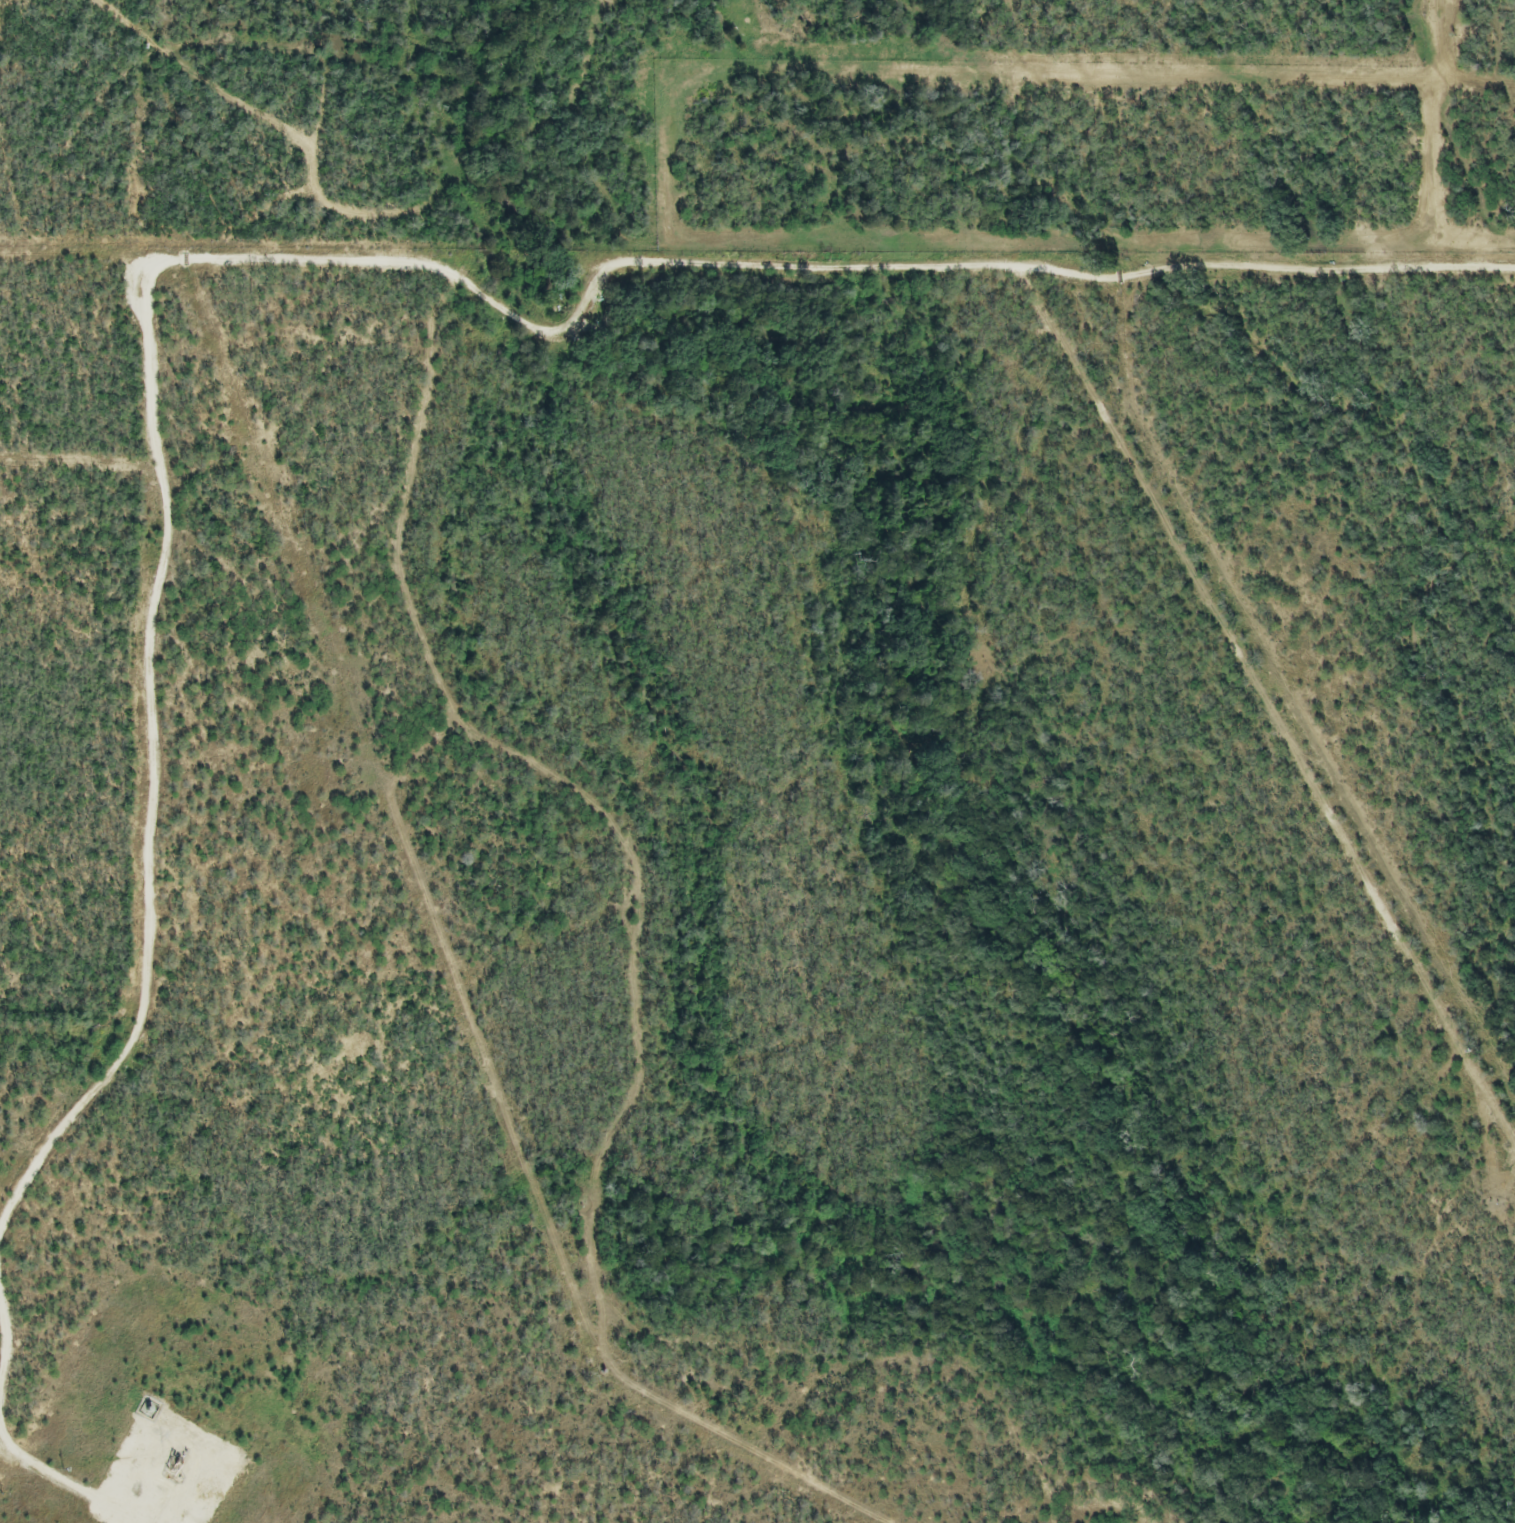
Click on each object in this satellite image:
road: (354, 265)
road: (2, 1350)
road: (63, 1479)

